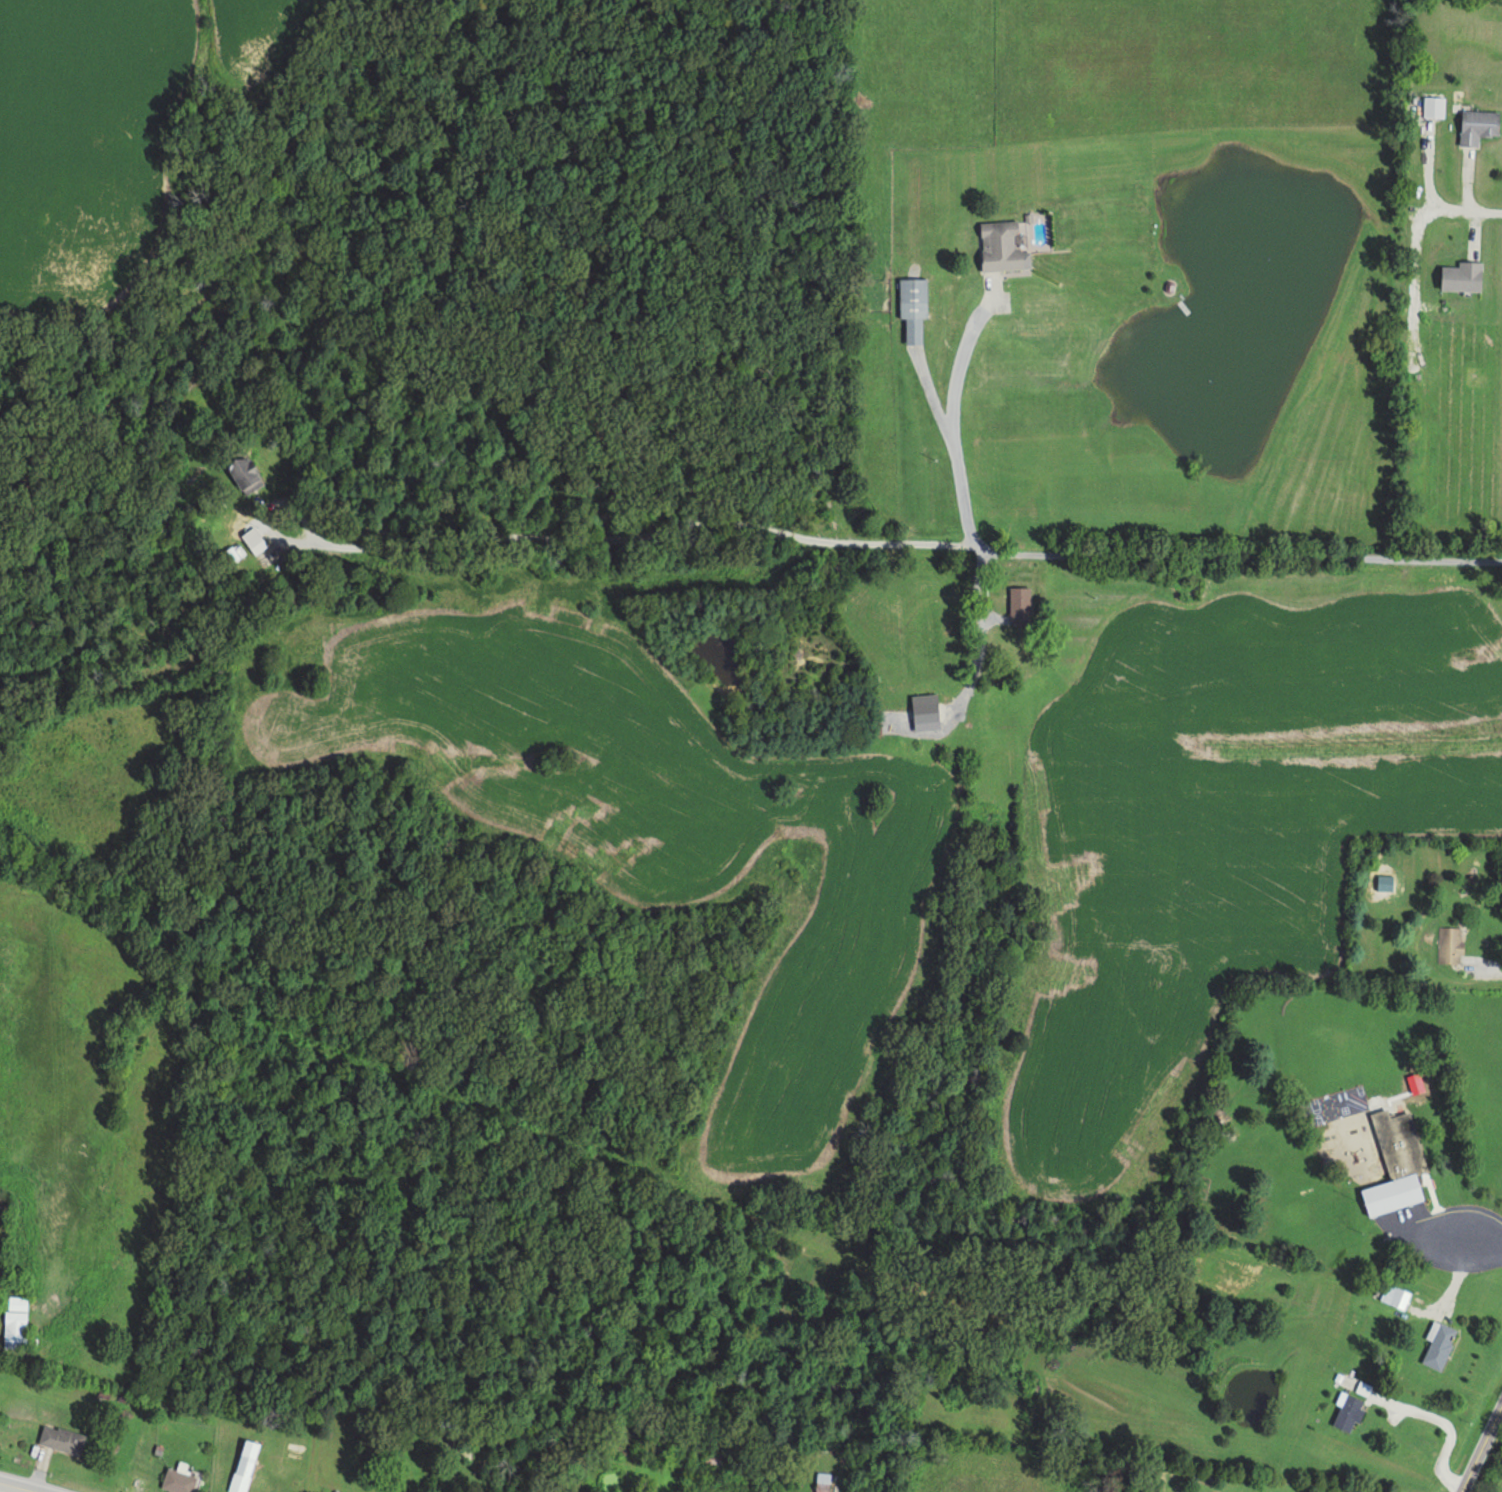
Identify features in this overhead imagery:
building: (1433, 107)
building: (1477, 126)
road: (1471, 208)
building: (1001, 246)
building: (1461, 275)
building: (912, 305)
road: (954, 429)
building: (245, 474)
building: (256, 543)
road: (1113, 550)
building: (1018, 614)
building: (1450, 945)
building: (1395, 1165)
building: (1399, 1298)
building: (15, 1322)
building: (1438, 1345)
building: (1347, 1411)
building: (60, 1439)
road: (1480, 1444)
building: (712, 1455)
building: (244, 1466)
building: (178, 1481)
building: (822, 1482)
road: (21, 1486)

